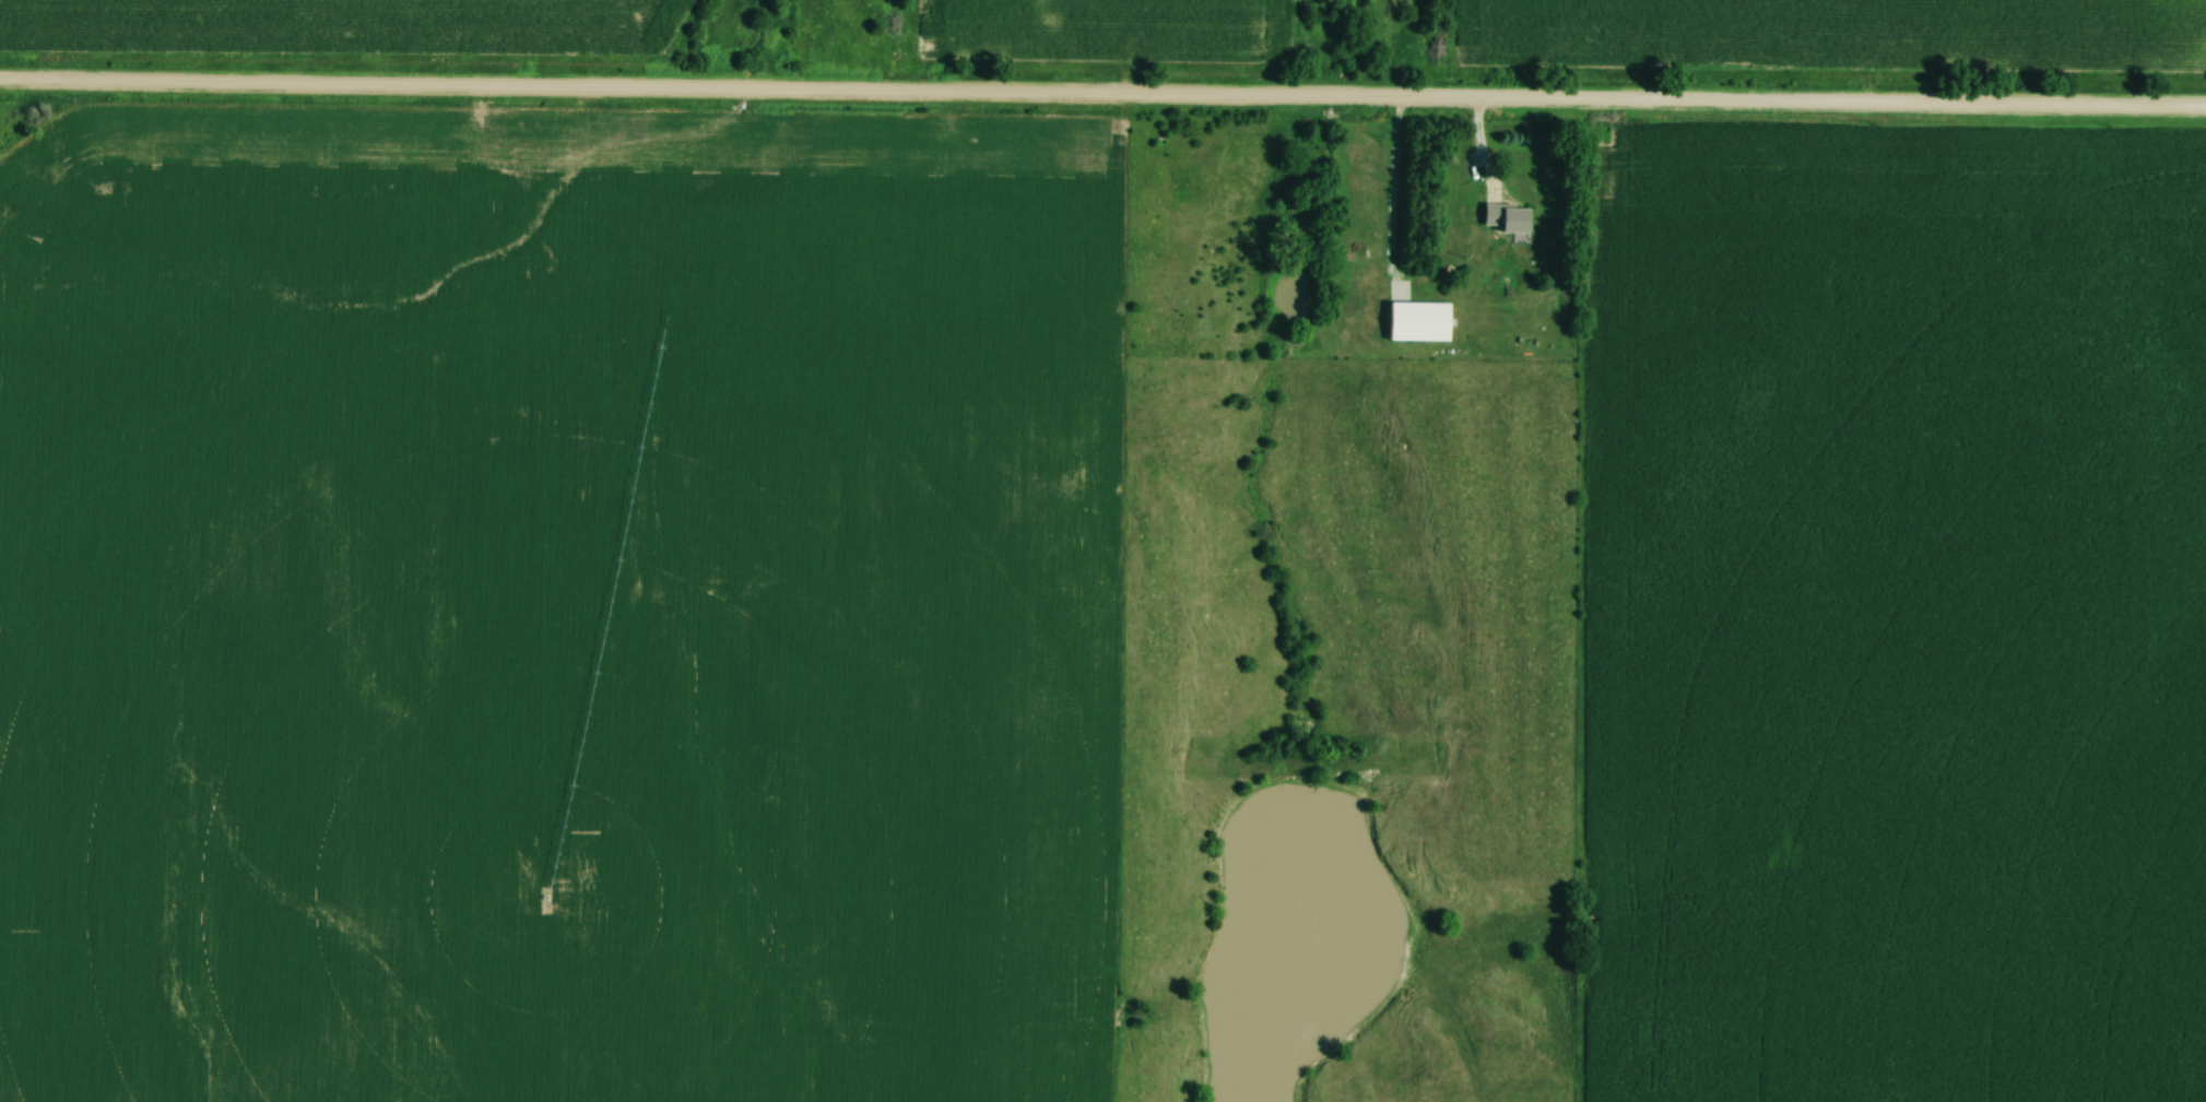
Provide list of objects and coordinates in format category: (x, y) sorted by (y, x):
road: (1102, 95)
road: (1385, 200)
building: (1503, 217)
building: (1415, 322)

